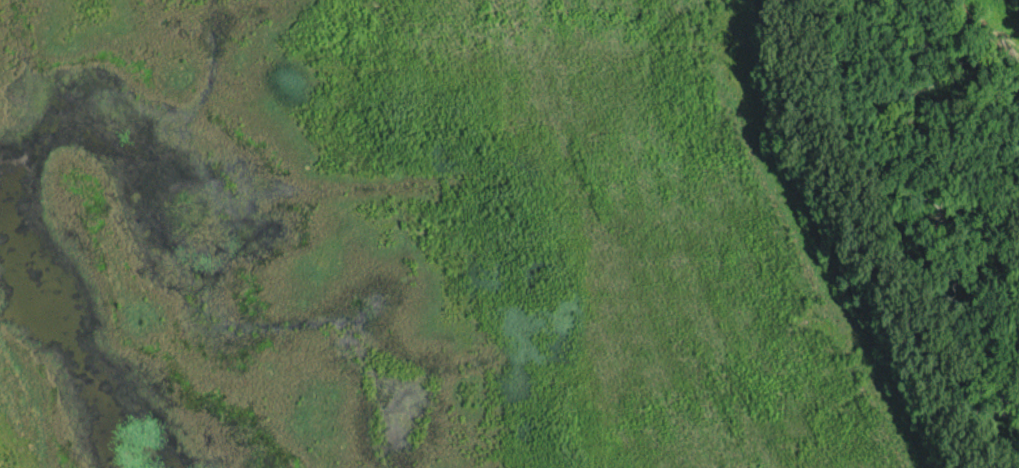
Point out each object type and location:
river: (1002, 16)

